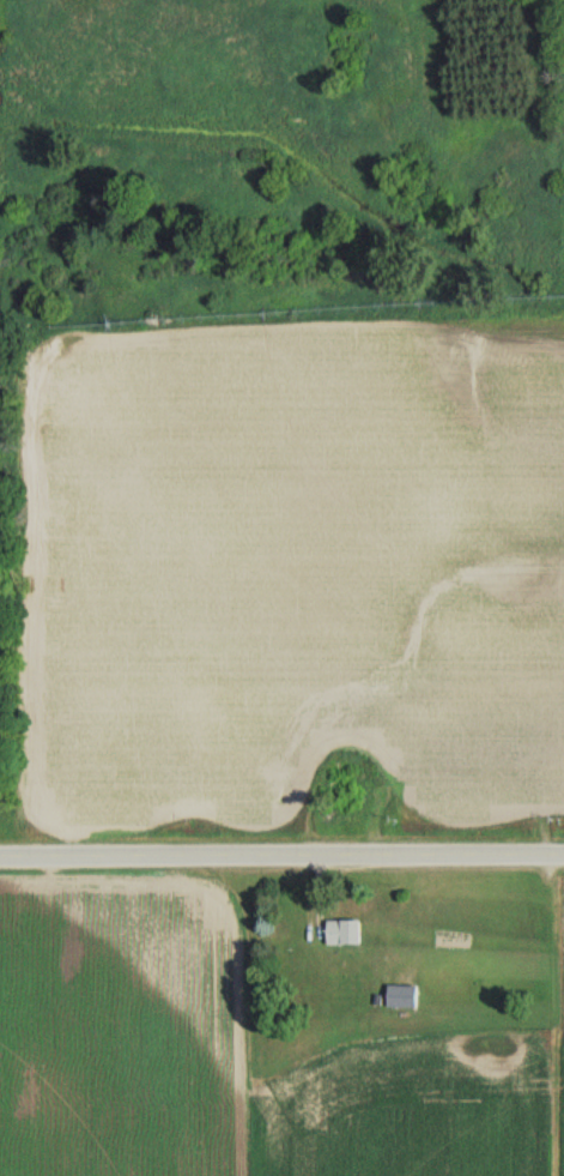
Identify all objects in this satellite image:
road: (281, 856)
building: (340, 931)
building: (398, 996)

